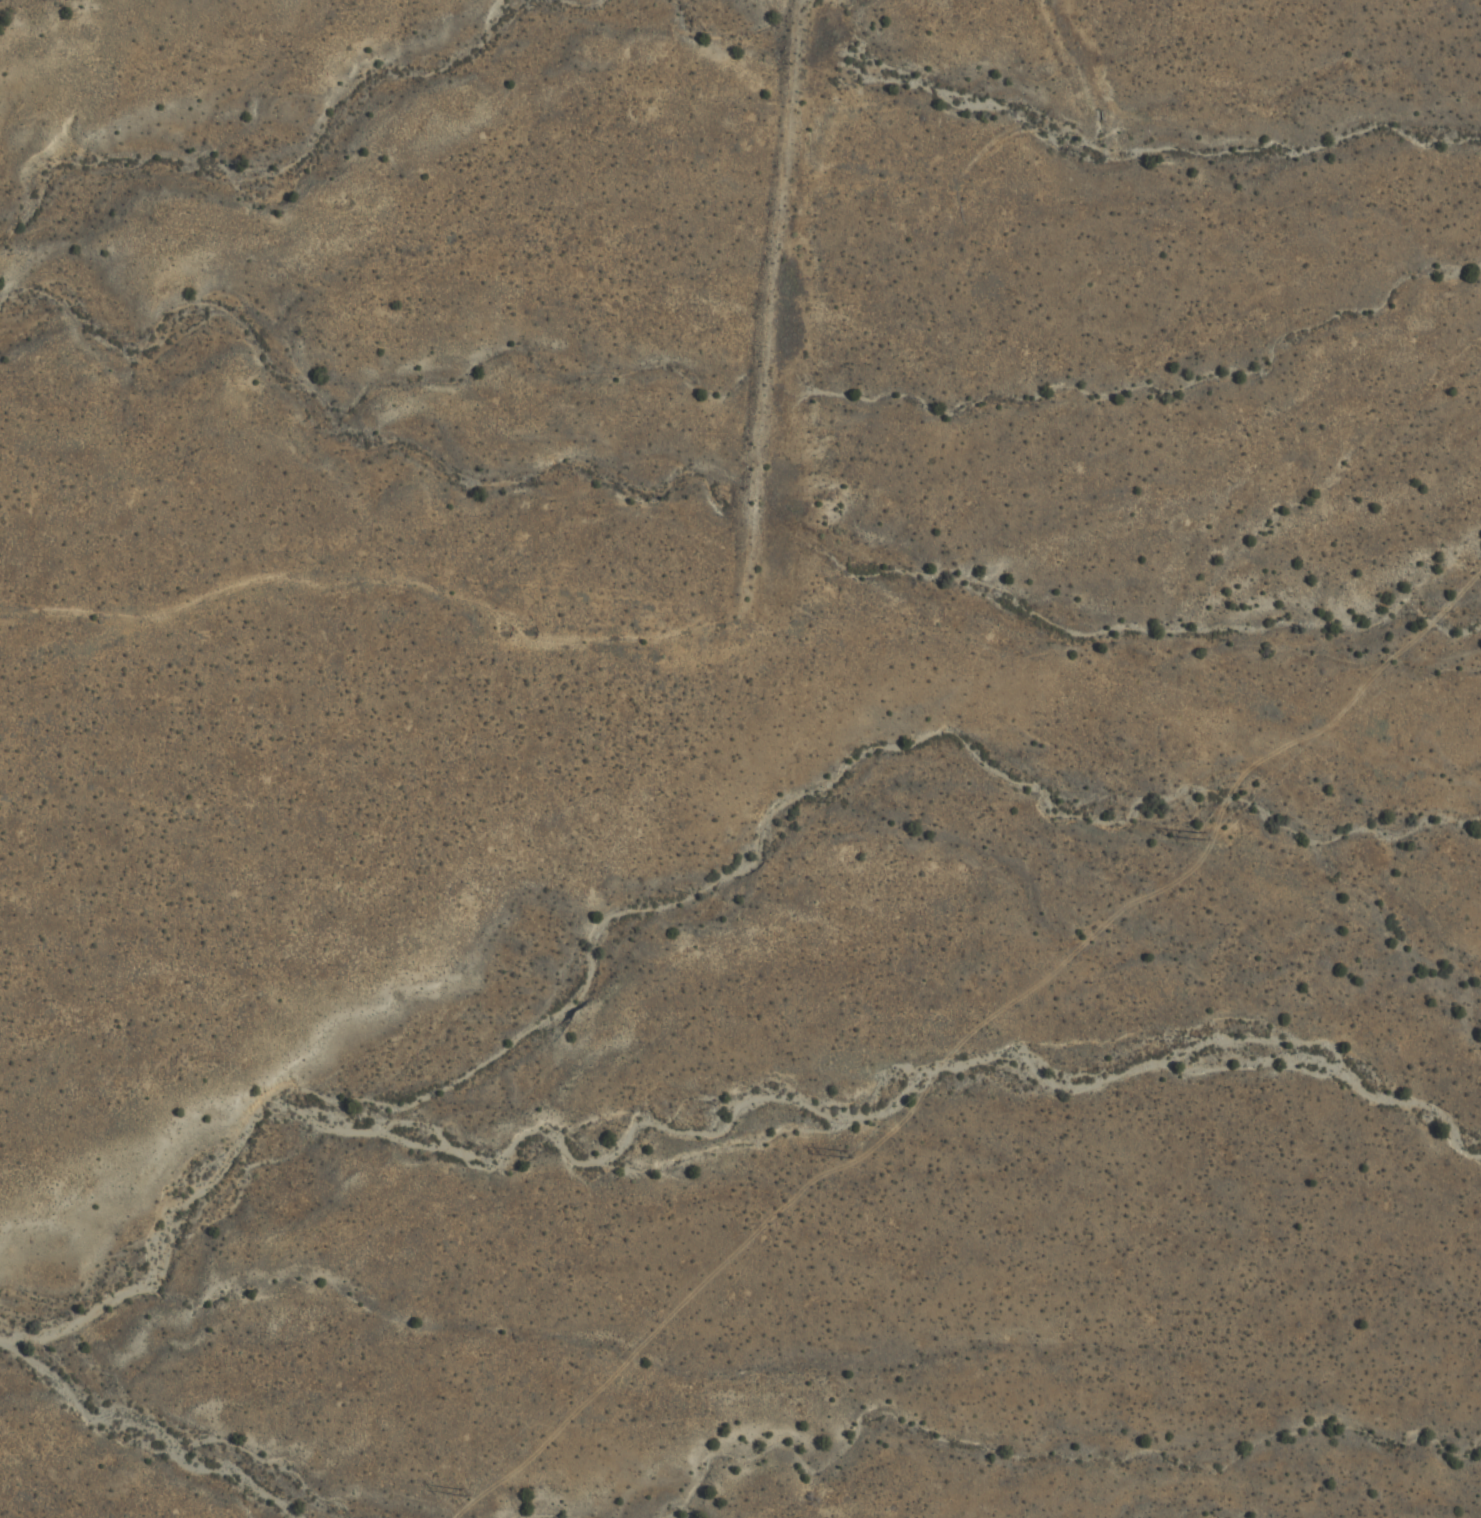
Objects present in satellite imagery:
power tower: (1206, 838)
power tower: (840, 1152)
power tower: (466, 1494)

